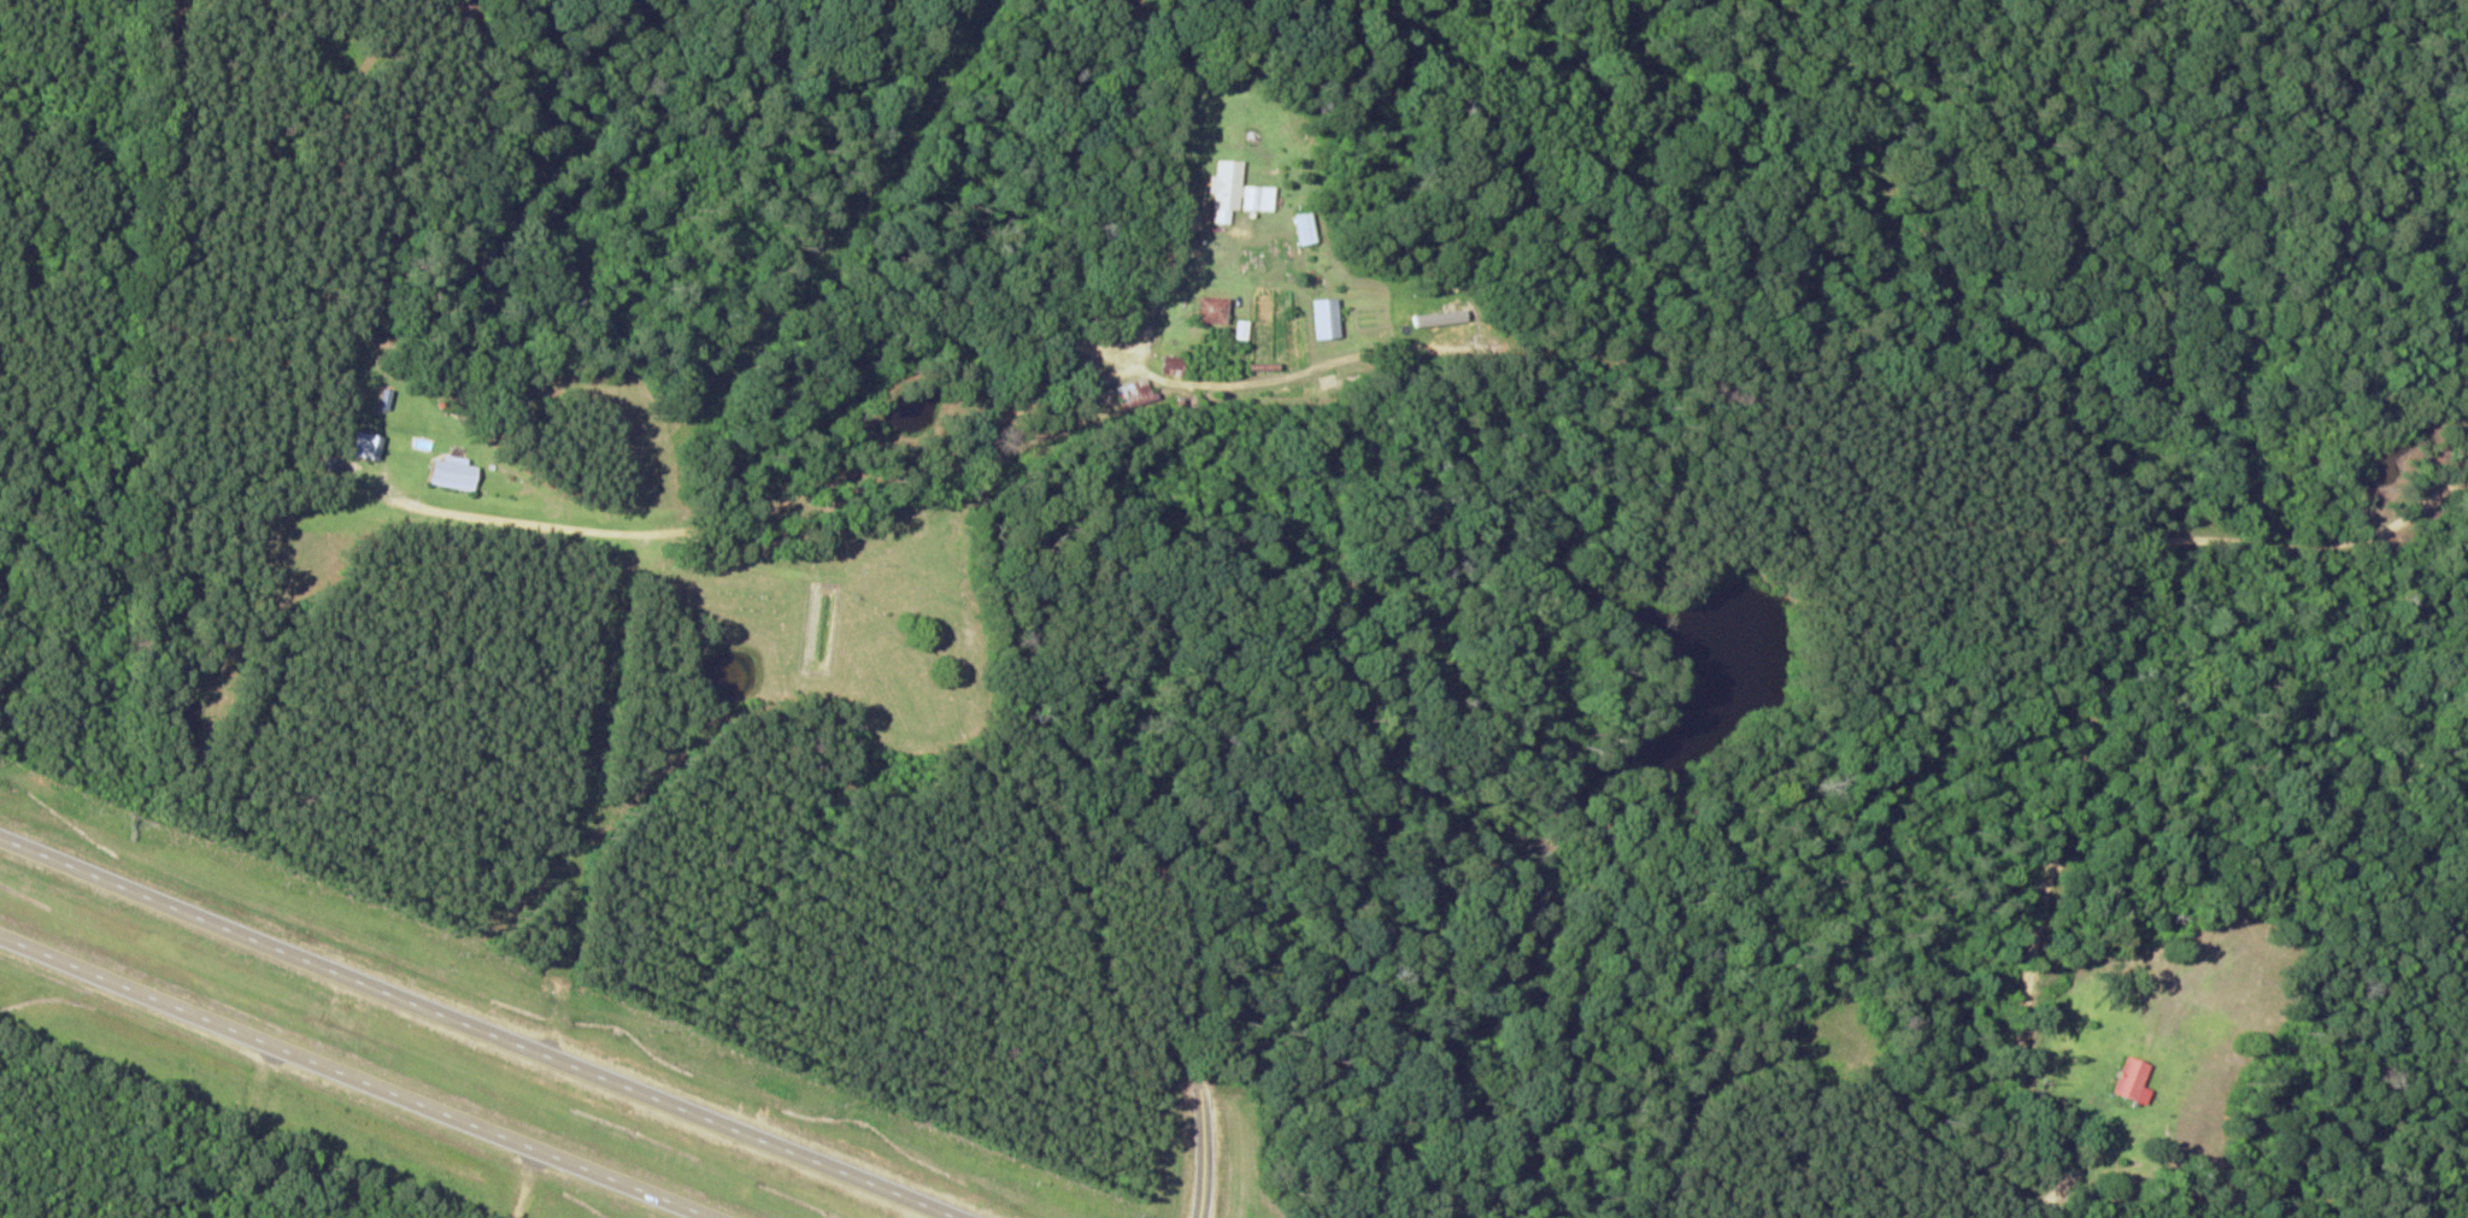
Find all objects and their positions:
building: (1238, 193)
building: (1308, 229)
building: (1215, 310)
building: (1444, 317)
building: (1329, 318)
building: (1244, 330)
building: (1175, 366)
building: (1136, 395)
building: (369, 446)
building: (454, 473)
road: (1009, 630)
road: (2103, 751)
road: (478, 1028)
road: (354, 1077)
building: (2133, 1079)

